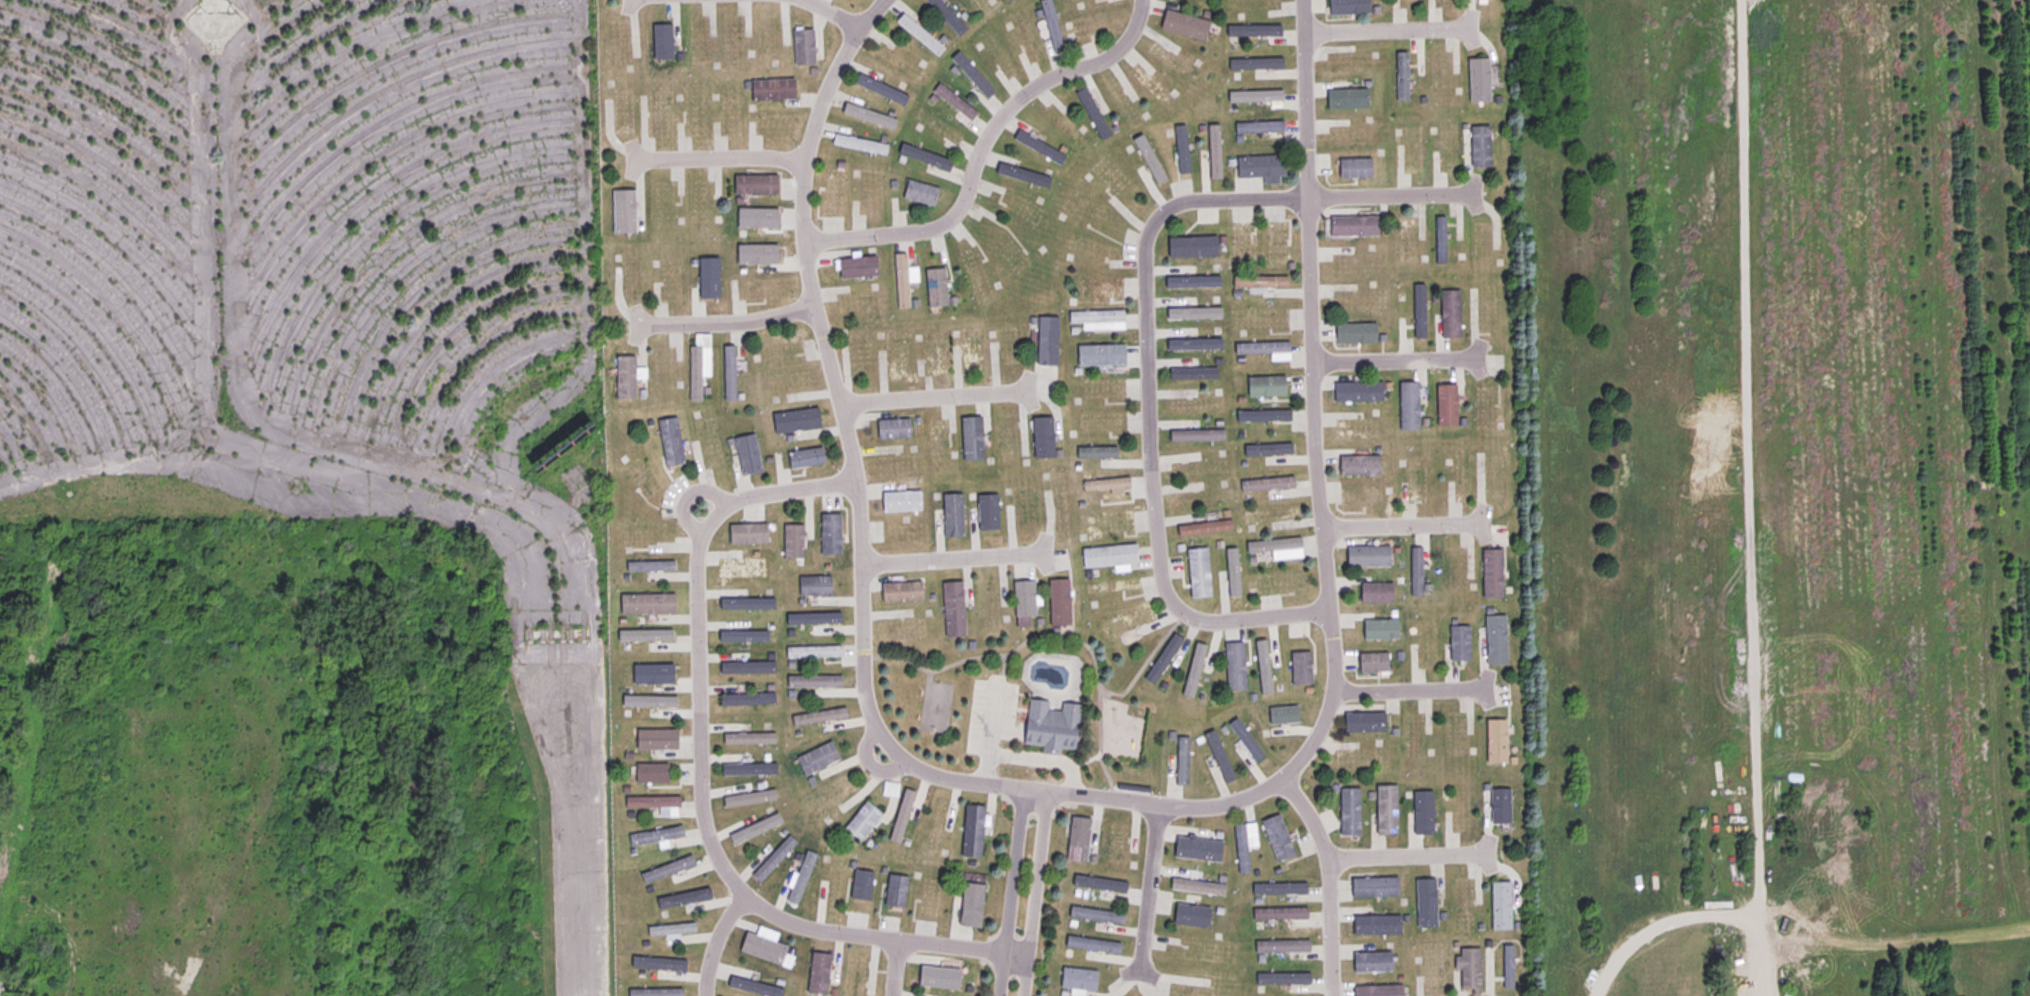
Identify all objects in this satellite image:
building: (1347, 7)
road: (826, 10)
building: (945, 16)
building: (210, 21)
building: (1050, 25)
building: (1183, 25)
road: (1386, 34)
building: (918, 35)
building: (660, 41)
building: (971, 75)
building: (1477, 80)
building: (1346, 98)
building: (953, 101)
building: (1091, 113)
building: (1037, 147)
building: (1479, 147)
road: (990, 159)
road: (713, 162)
building: (1259, 167)
building: (831, 192)
building: (919, 193)
road: (1389, 198)
building: (1352, 226)
building: (1274, 243)
building: (1190, 247)
building: (934, 287)
building: (1099, 288)
building: (1449, 314)
building: (1097, 320)
road: (724, 321)
building: (1354, 333)
building: (1045, 341)
building: (1263, 350)
building: (1099, 356)
road: (1395, 366)
building: (696, 370)
building: (728, 373)
building: (1191, 373)
building: (624, 377)
building: (1265, 387)
building: (1356, 392)
road: (936, 398)
building: (1195, 405)
building: (1445, 406)
building: (1407, 407)
building: (1262, 416)
road: (1154, 418)
building: (794, 420)
building: (1191, 424)
building: (891, 428)
building: (669, 444)
building: (1266, 450)
road: (1741, 454)
building: (1183, 458)
building: (585, 493)
road: (422, 499)
building: (986, 514)
building: (1202, 528)
road: (1404, 528)
building: (640, 532)
building: (1276, 548)
building: (1108, 556)
building: (1366, 556)
road: (952, 559)
building: (648, 565)
building: (739, 567)
building: (1197, 573)
building: (899, 592)
building: (1374, 593)
building: (645, 603)
building: (1057, 603)
building: (1022, 604)
building: (951, 609)
building: (811, 620)
building: (554, 632)
building: (649, 635)
building: (1494, 640)
building: (1458, 644)
building: (811, 652)
building: (1162, 660)
building: (1371, 663)
building: (1233, 667)
building: (745, 668)
building: (1299, 668)
building: (647, 673)
road: (1410, 689)
building: (745, 699)
building: (651, 701)
building: (1281, 715)
building: (1363, 722)
building: (1050, 726)
building: (648, 738)
building: (1244, 739)
building: (1495, 741)
building: (1180, 761)
road: (869, 766)
building: (746, 770)
building: (649, 773)
road: (705, 785)
road: (1089, 798)
building: (747, 799)
building: (653, 803)
building: (1498, 806)
building: (1385, 810)
building: (1348, 812)
building: (1422, 813)
building: (861, 822)
building: (970, 832)
building: (652, 837)
building: (1277, 838)
building: (1077, 839)
building: (1116, 842)
building: (1243, 844)
building: (1196, 850)
building: (772, 859)
road: (1411, 861)
building: (665, 870)
building: (799, 878)
road: (1328, 880)
building: (1099, 882)
building: (859, 886)
building: (1376, 886)
building: (1196, 887)
building: (1278, 887)
road: (1147, 890)
road: (1008, 893)
road: (1032, 895)
building: (683, 896)
building: (1422, 902)
building: (1460, 903)
building: (970, 905)
building: (1499, 906)
building: (1279, 912)
building: (1095, 914)
building: (1189, 916)
building: (1378, 924)
road: (1657, 929)
building: (669, 930)
road: (710, 943)
building: (1094, 944)
building: (1280, 944)
building: (1189, 947)
building: (760, 948)
road: (1753, 952)
building: (1379, 961)
building: (661, 962)
building: (1432, 968)
building: (1467, 968)
building: (1506, 968)
building: (817, 972)
road: (898, 972)
building: (855, 976)
building: (936, 976)
building: (1281, 977)
building: (1076, 979)
building: (753, 986)
building: (1377, 989)
building: (1187, 991)
building: (655, 992)

